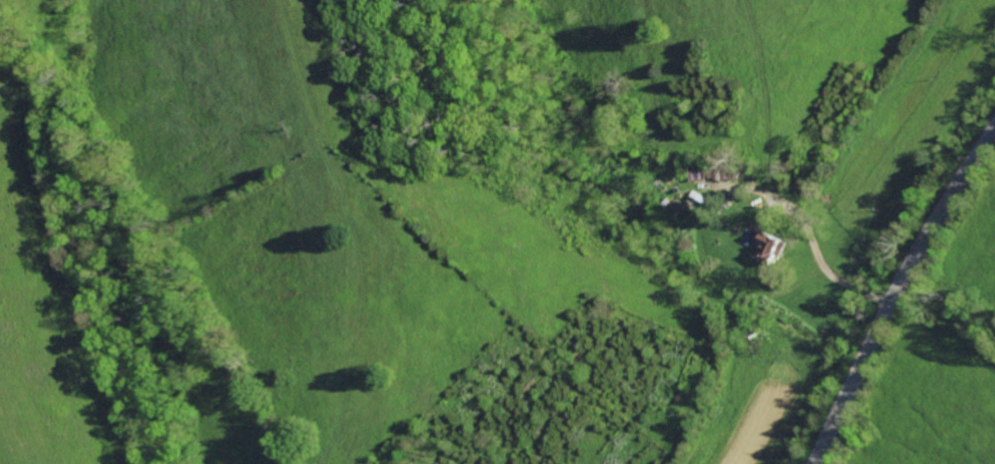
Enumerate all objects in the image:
building: (774, 249)
road: (824, 260)
road: (898, 293)

